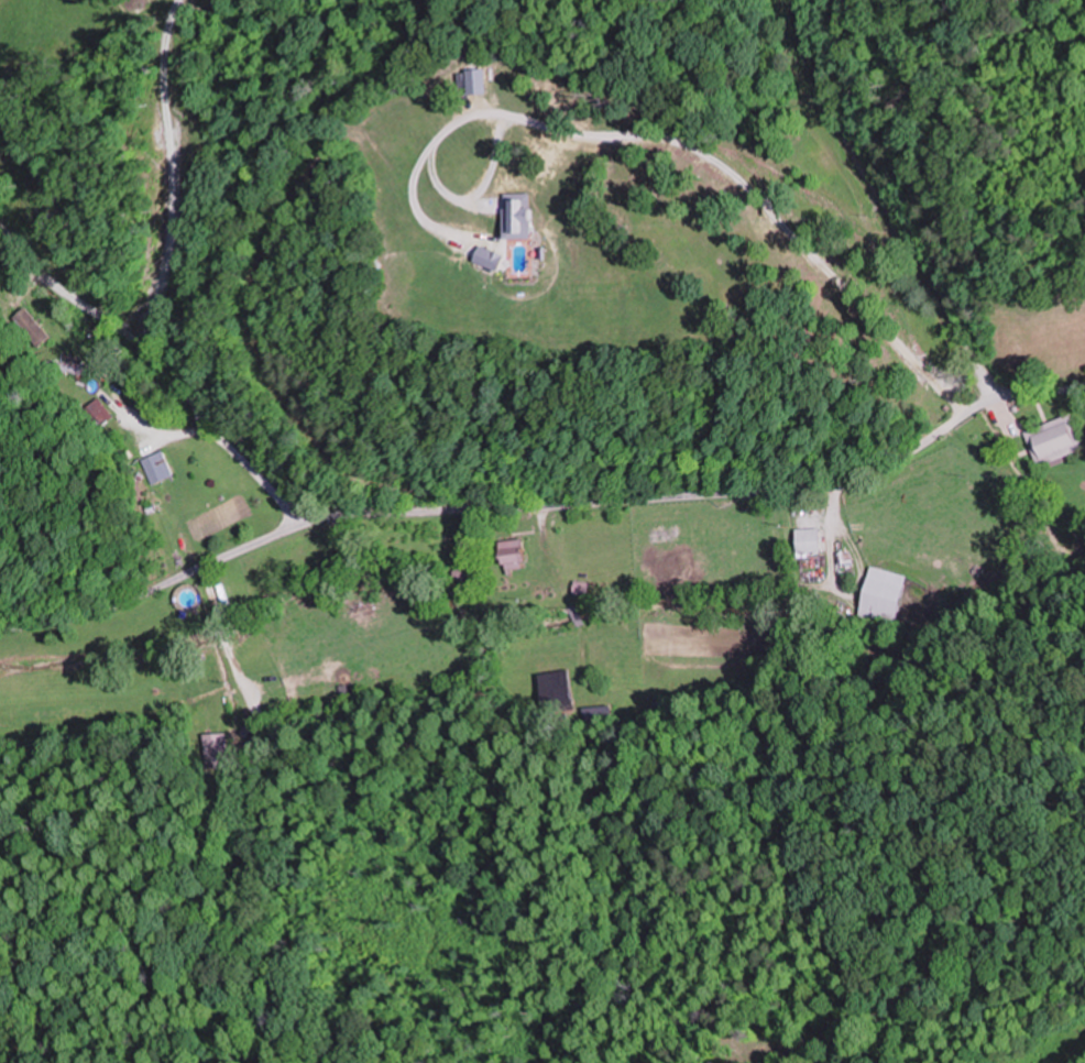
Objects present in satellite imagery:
road: (925, 198)
building: (516, 223)
building: (25, 327)
building: (66, 368)
road: (161, 368)
building: (97, 412)
building: (1053, 440)
building: (154, 467)
road: (544, 507)
building: (808, 539)
building: (511, 554)
building: (464, 574)
building: (881, 595)
building: (361, 599)
building: (556, 690)
building: (596, 712)
building: (216, 752)

